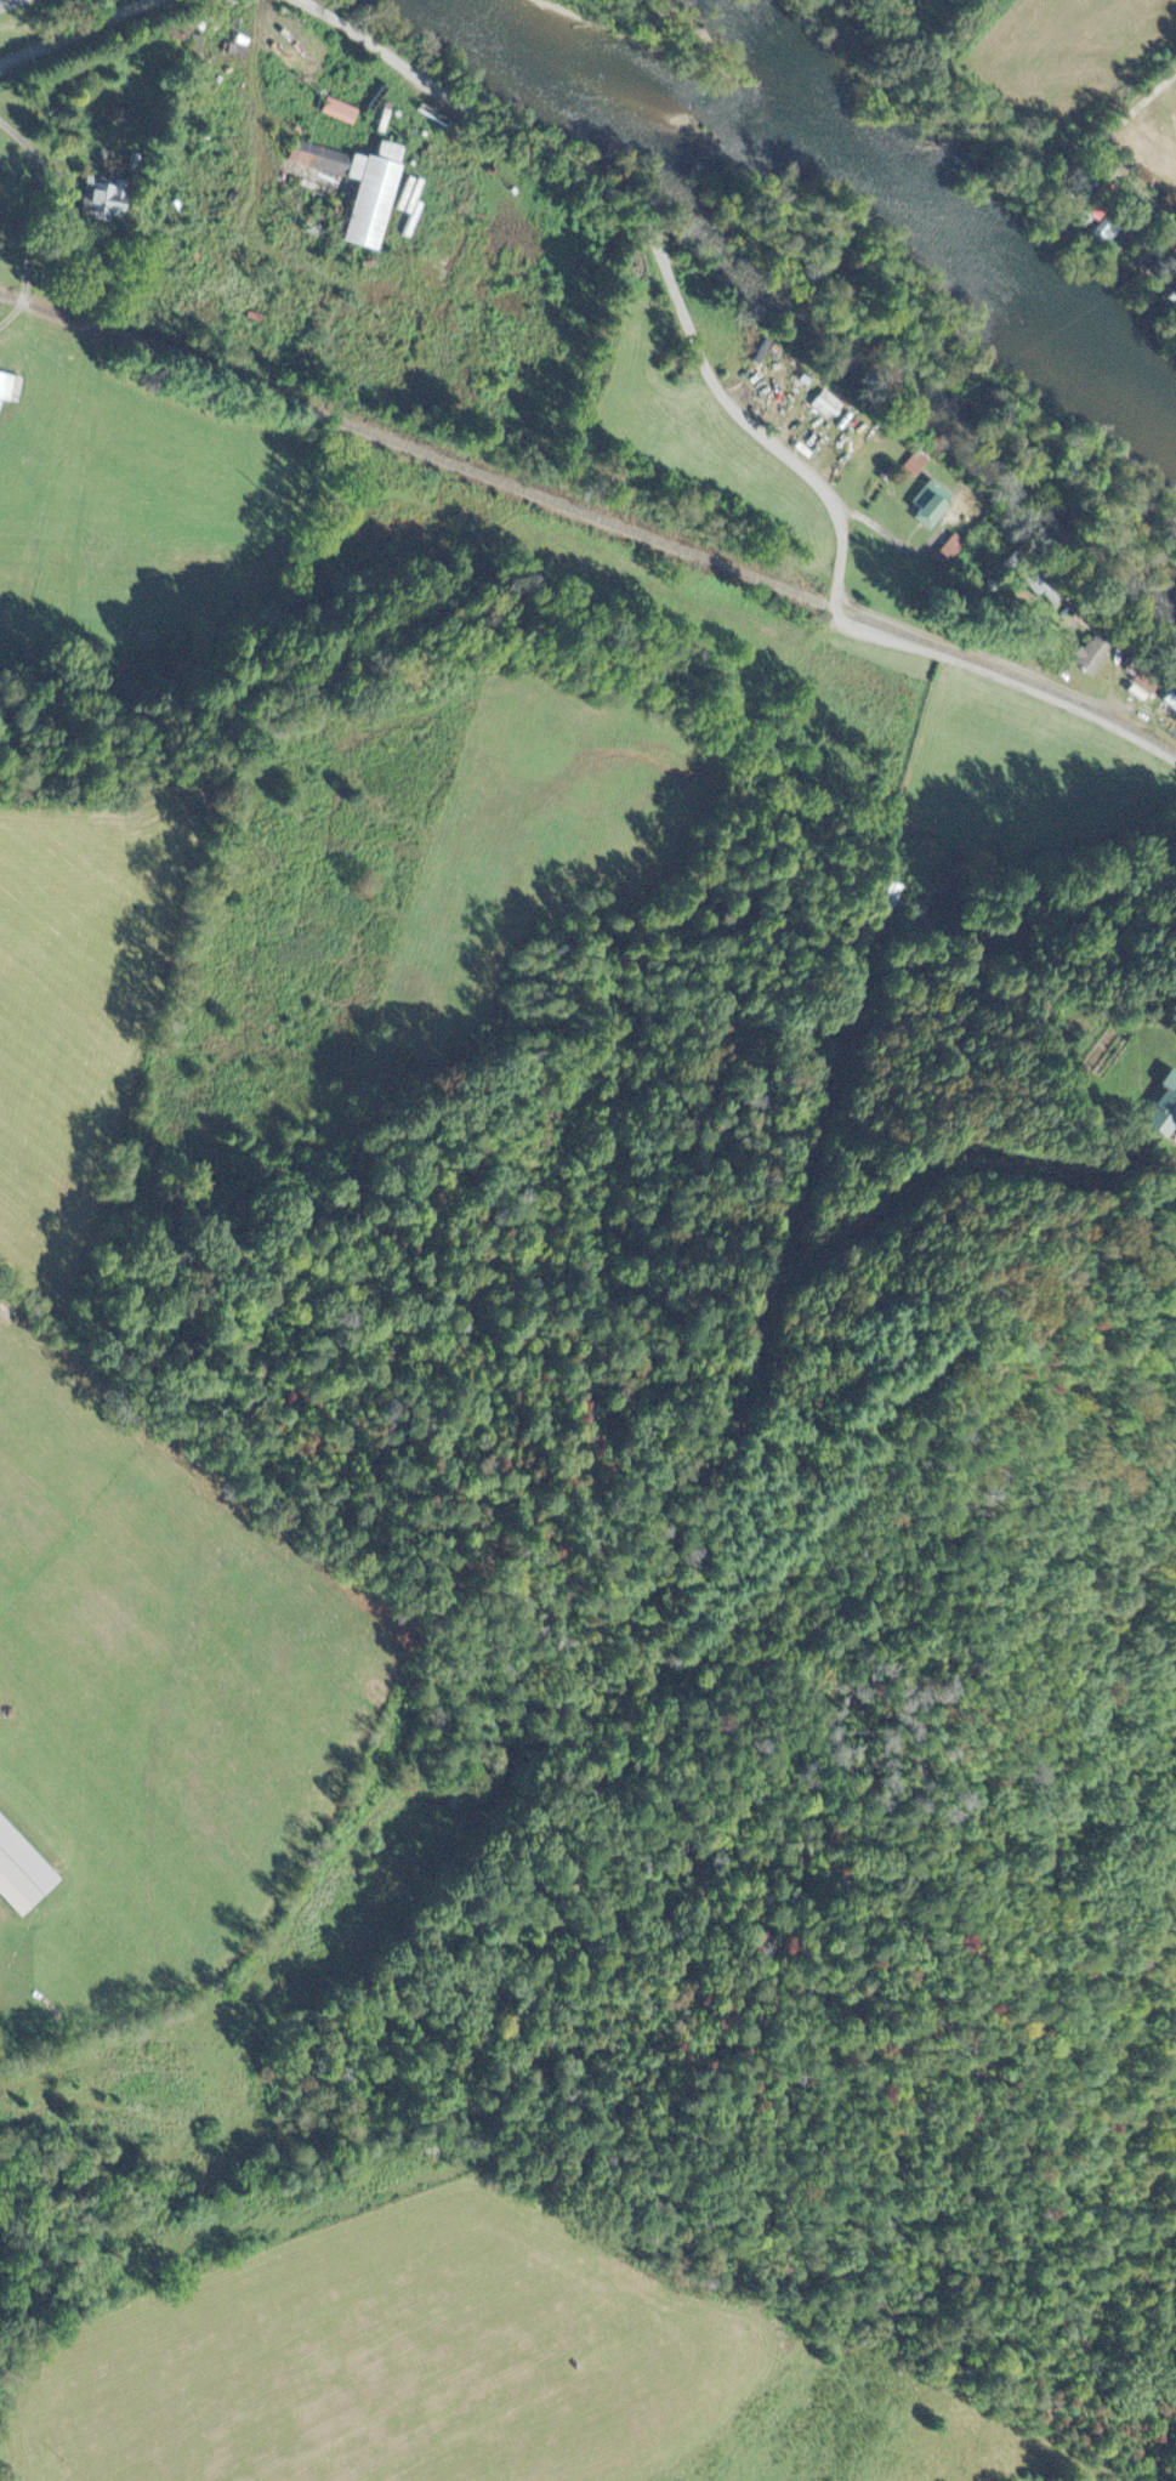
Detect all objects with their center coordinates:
road: (74, 32)
river: (513, 42)
river: (701, 98)
building: (335, 114)
building: (352, 189)
building: (98, 199)
river: (945, 206)
building: (1112, 223)
river: (1091, 317)
river: (1142, 356)
building: (7, 392)
building: (823, 407)
road: (738, 413)
building: (926, 505)
railway: (591, 515)
building: (947, 551)
road: (981, 652)
building: (1087, 657)
building: (888, 901)
building: (1165, 1111)
building: (21, 1874)

